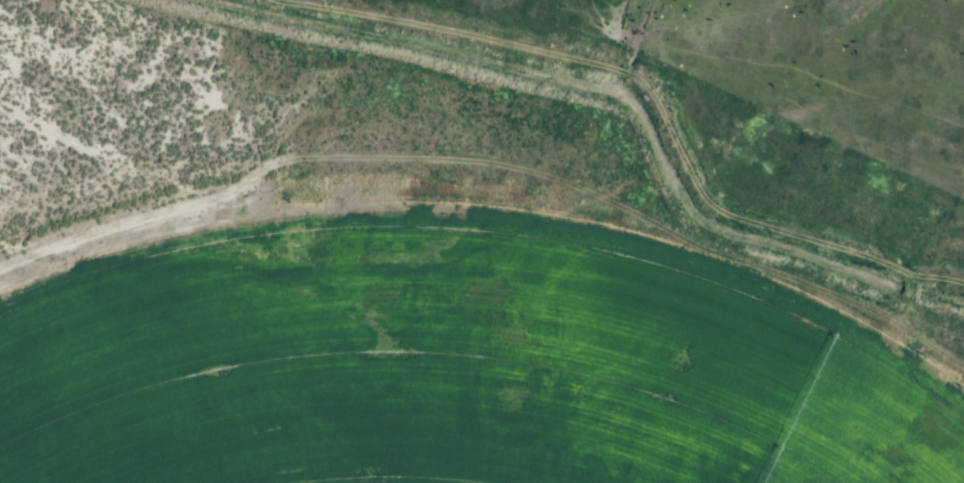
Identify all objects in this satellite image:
crop: (440, 366)

